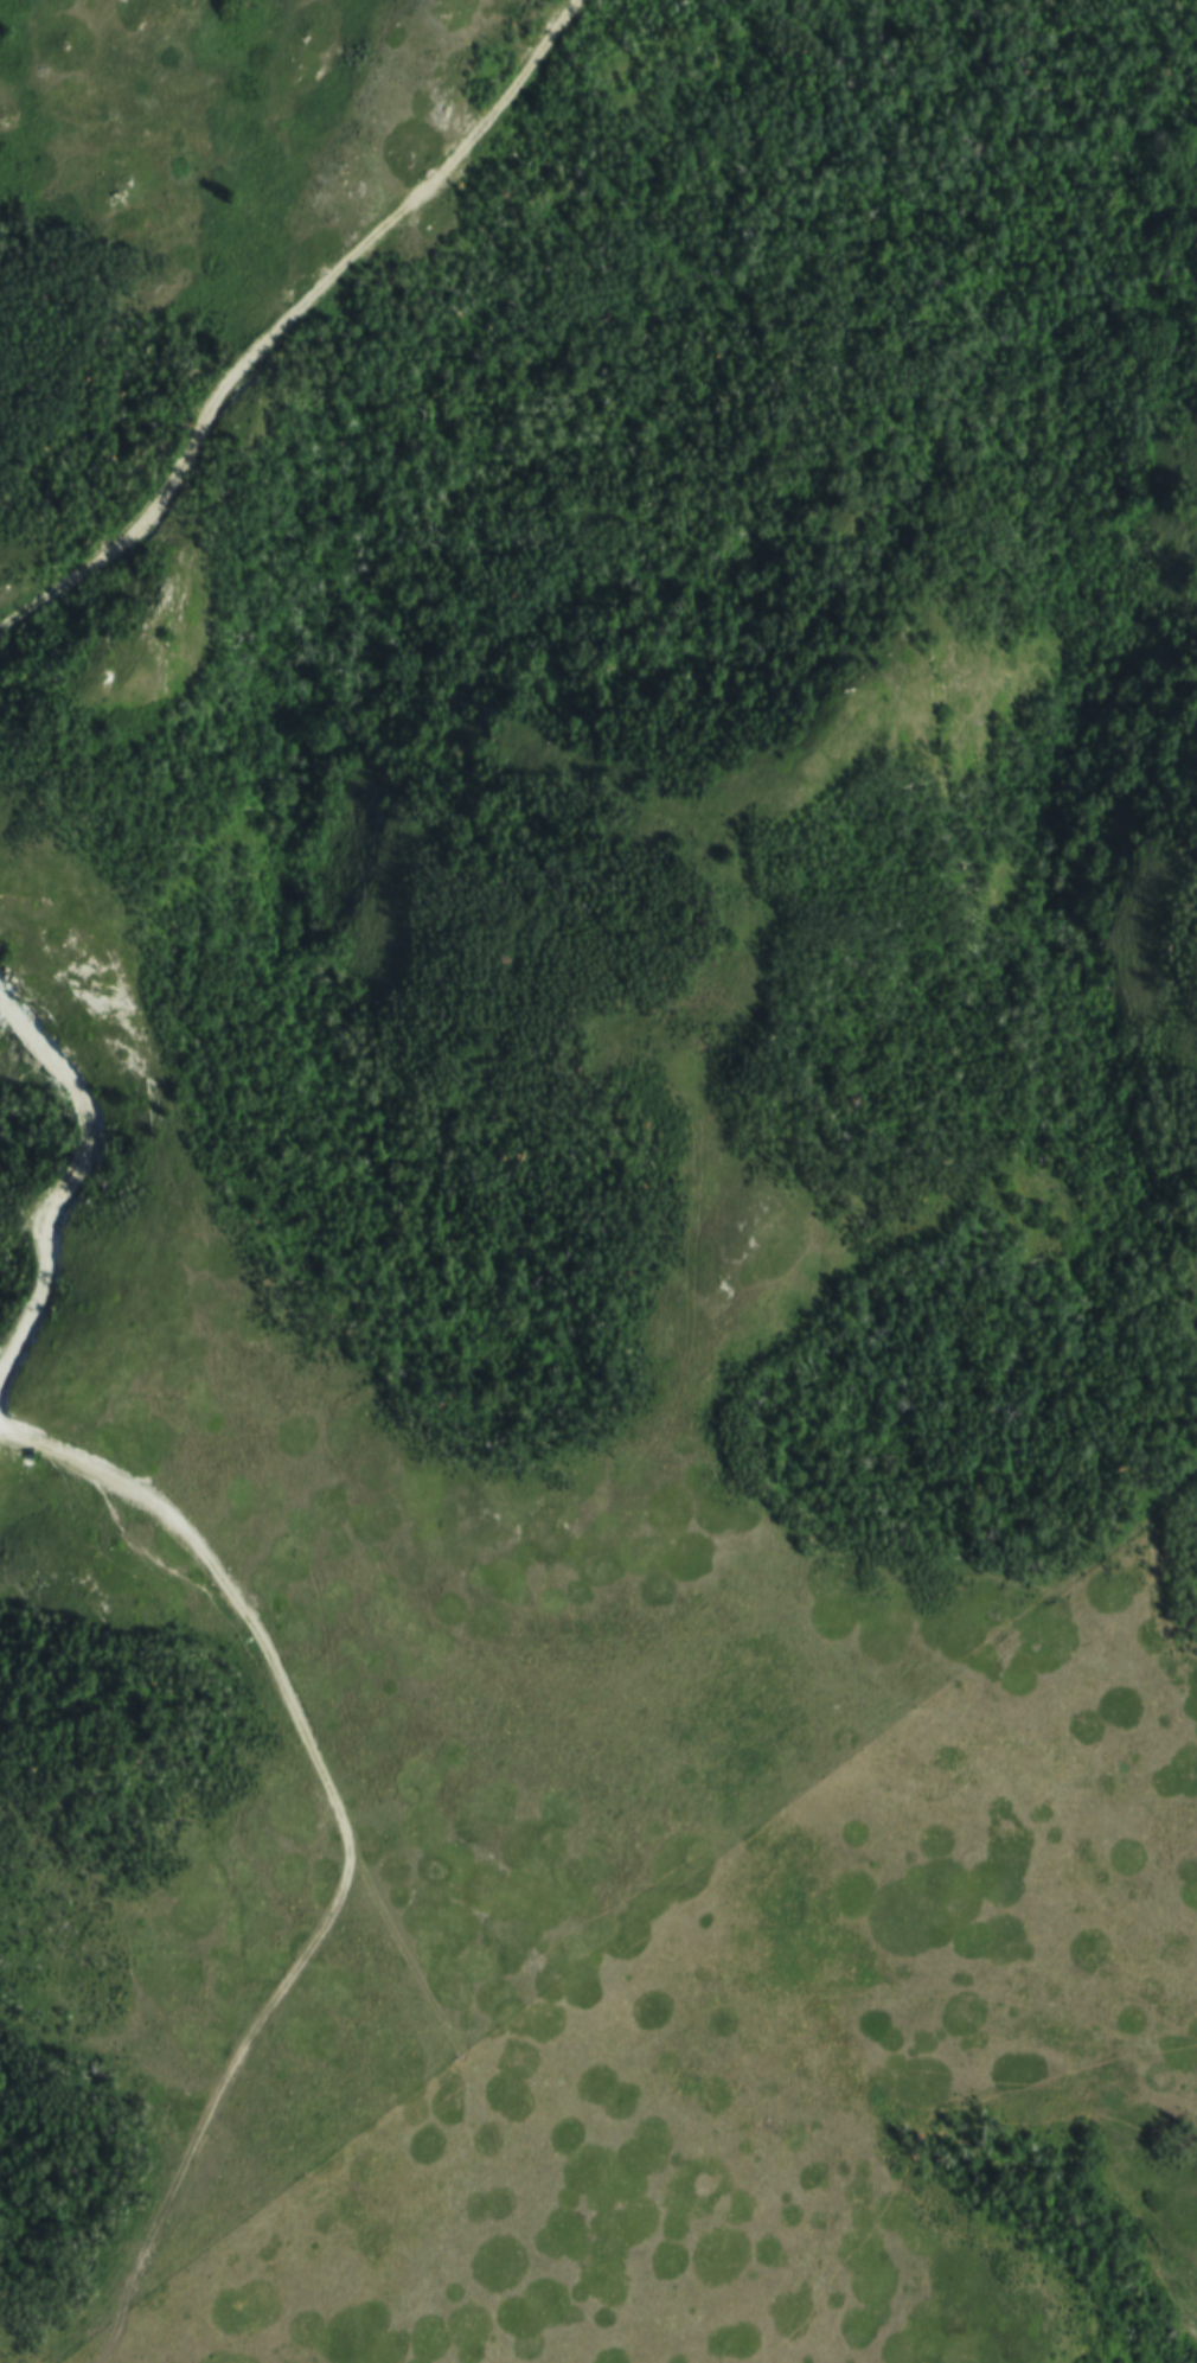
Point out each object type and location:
road: (292, 324)
road: (70, 1179)
road: (351, 1856)

